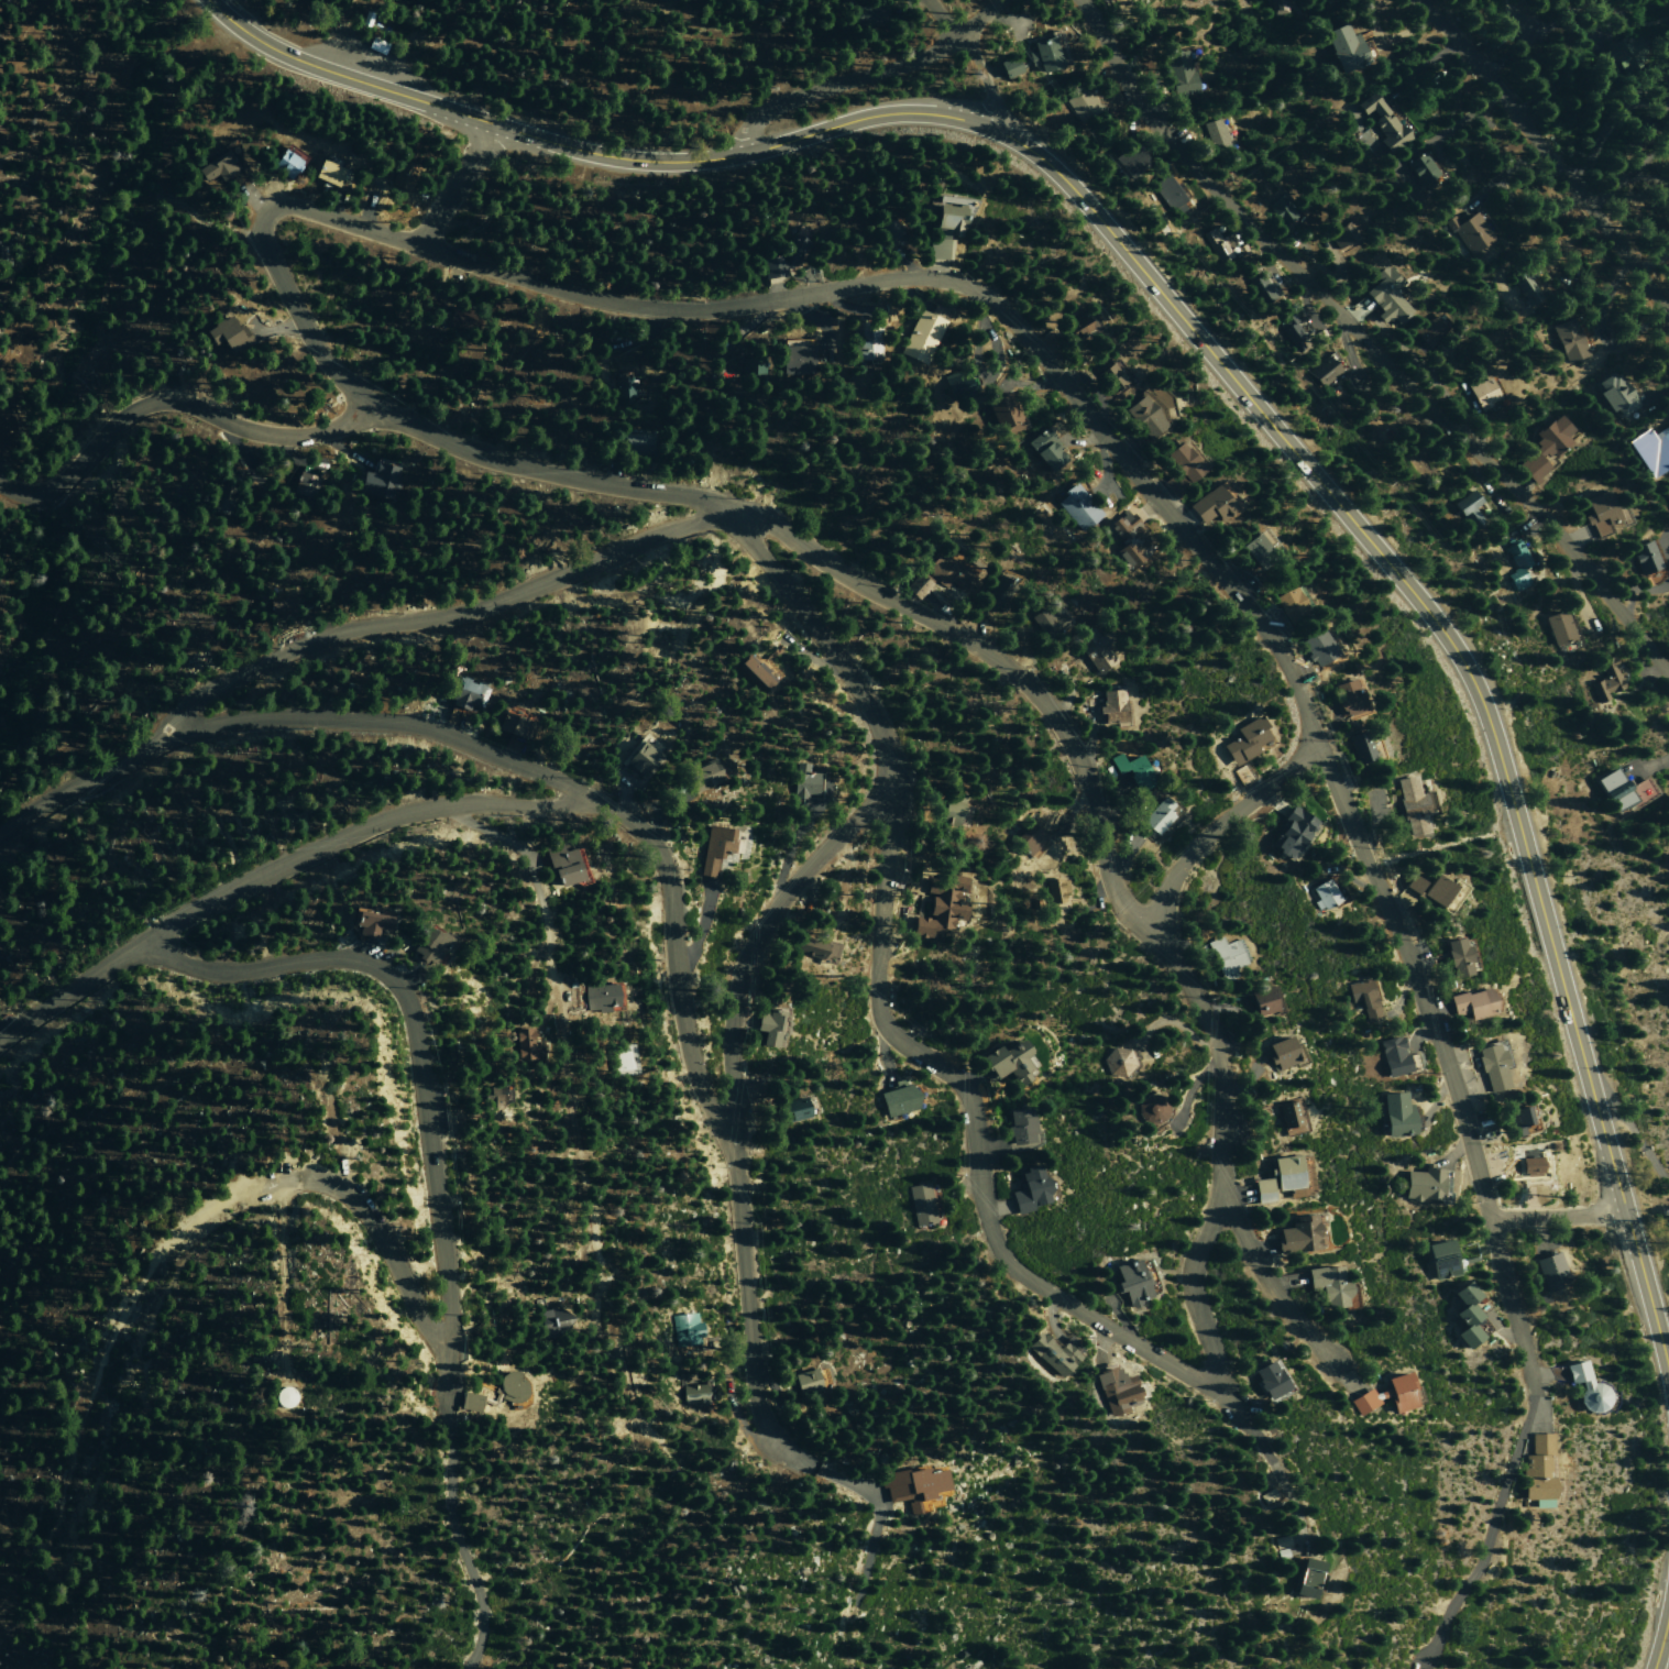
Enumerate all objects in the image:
building: (665, 0)
building: (754, 1)
building: (1277, 7)
building: (868, 15)
road: (1514, 19)
road: (1524, 34)
road: (1388, 40)
building: (1342, 47)
building: (1043, 54)
building: (1618, 54)
road: (973, 56)
road: (1560, 58)
building: (1007, 66)
building: (1179, 73)
road: (866, 76)
building: (1081, 103)
park: (1326, 107)
road: (1326, 109)
building: (1382, 122)
road: (1606, 123)
building: (1215, 133)
road: (1547, 154)
building: (1129, 160)
building: (285, 163)
building: (213, 167)
building: (1420, 168)
building: (326, 173)
building: (402, 174)
road: (1627, 174)
road: (454, 185)
building: (1168, 195)
building: (1280, 210)
building: (948, 219)
building: (1470, 233)
building: (887, 234)
building: (1342, 235)
road: (264, 244)
building: (1216, 244)
building: (937, 249)
building: (782, 256)
road: (1651, 260)
building: (1525, 288)
building: (1260, 289)
road: (978, 293)
building: (1384, 296)
building: (459, 318)
building: (1441, 320)
building: (1075, 322)
building: (1293, 330)
building: (1428, 332)
building: (226, 334)
building: (920, 336)
building: (1568, 340)
building: (864, 341)
road: (1364, 342)
road: (1209, 351)
building: (797, 360)
building: (751, 362)
building: (1326, 370)
building: (1111, 376)
building: (955, 385)
building: (623, 389)
building: (1482, 393)
building: (1613, 394)
road: (174, 400)
building: (1002, 410)
building: (1145, 416)
building: (1, 422)
building: (635, 444)
building: (1544, 448)
building: (1044, 450)
building: (1650, 450)
building: (1182, 462)
building: (374, 482)
building: (1172, 484)
building: (304, 485)
building: (1667, 493)
building: (224, 496)
building: (1210, 505)
building: (1076, 506)
building: (1468, 508)
building: (1599, 514)
building: (1128, 539)
building: (1260, 545)
building: (1645, 557)
building: (1516, 566)
building: (946, 572)
building: (915, 586)
building: (998, 591)
building: (1288, 601)
building: (281, 603)
road: (442, 618)
building: (1042, 622)
building: (1560, 630)
road: (966, 643)
building: (1316, 647)
building: (1094, 650)
building: (755, 673)
building: (1606, 681)
building: (464, 694)
building: (1347, 698)
building: (1111, 707)
building: (514, 725)
building: (1243, 740)
building: (1360, 746)
building: (639, 760)
building: (1132, 770)
building: (701, 776)
road: (85, 781)
building: (803, 782)
building: (1623, 790)
building: (957, 797)
building: (1413, 804)
building: (953, 811)
building: (1159, 815)
road: (1219, 823)
building: (1291, 832)
building: (1026, 838)
road: (504, 839)
building: (714, 847)
building: (560, 863)
road: (274, 869)
building: (1412, 883)
building: (1435, 888)
building: (1055, 889)
building: (1324, 893)
road: (669, 901)
building: (940, 903)
building: (367, 921)
road: (754, 935)
building: (427, 944)
building: (811, 947)
building: (1227, 956)
building: (1456, 956)
road: (549, 970)
building: (600, 996)
building: (1363, 998)
building: (1262, 999)
building: (1471, 1003)
road: (877, 1009)
building: (767, 1024)
road: (414, 1029)
building: (524, 1042)
building: (1281, 1052)
building: (1392, 1055)
building: (623, 1057)
building: (1006, 1061)
building: (1116, 1061)
building: (1492, 1066)
road: (1448, 1069)
building: (496, 1096)
building: (894, 1097)
building: (789, 1108)
building: (1150, 1108)
building: (1395, 1112)
building: (1287, 1113)
building: (1515, 1119)
building: (1018, 1126)
road: (1634, 1135)
road: (579, 1165)
building: (1530, 1165)
building: (1284, 1171)
building: (1423, 1182)
building: (1026, 1189)
building: (1261, 1190)
building: (919, 1203)
road: (1557, 1218)
building: (1296, 1233)
road: (383, 1250)
building: (1439, 1258)
building: (1550, 1271)
building: (1129, 1282)
building: (1327, 1284)
road: (1269, 1285)
road: (1196, 1313)
building: (1463, 1313)
building: (552, 1321)
building: (683, 1328)
road: (734, 1344)
building: (1053, 1353)
road: (447, 1374)
road: (96, 1377)
building: (821, 1377)
building: (1269, 1380)
building: (805, 1382)
building: (510, 1386)
building: (1585, 1387)
building: (1117, 1390)
building: (1394, 1391)
building: (693, 1394)
building: (279, 1395)
building: (468, 1402)
road: (745, 1431)
building: (1536, 1468)
road: (1283, 1481)
building: (912, 1486)
road: (876, 1497)
road: (1487, 1539)
road: (455, 1541)
building: (1306, 1578)
road: (1661, 1640)

